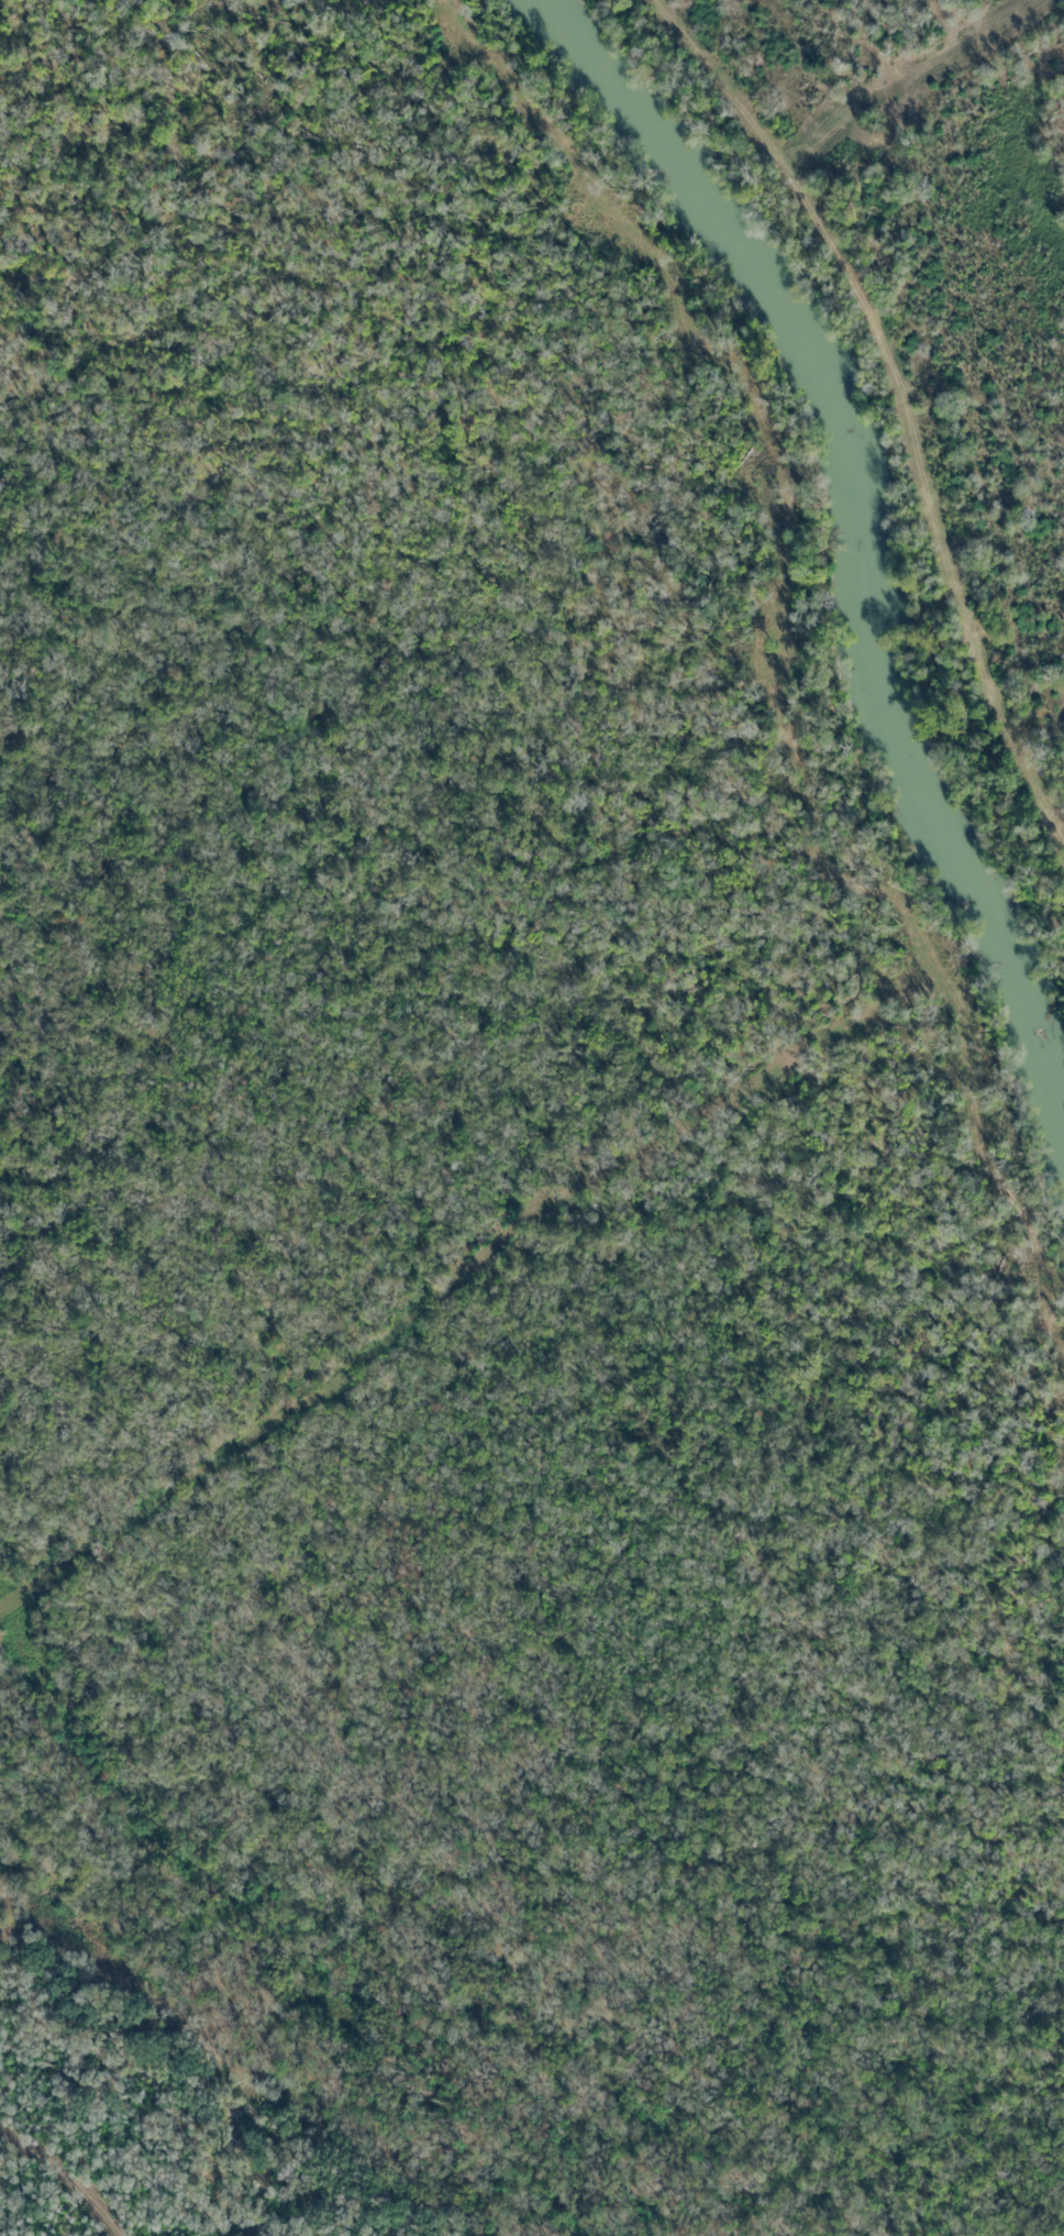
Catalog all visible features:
road: (899, 389)
river: (845, 542)

